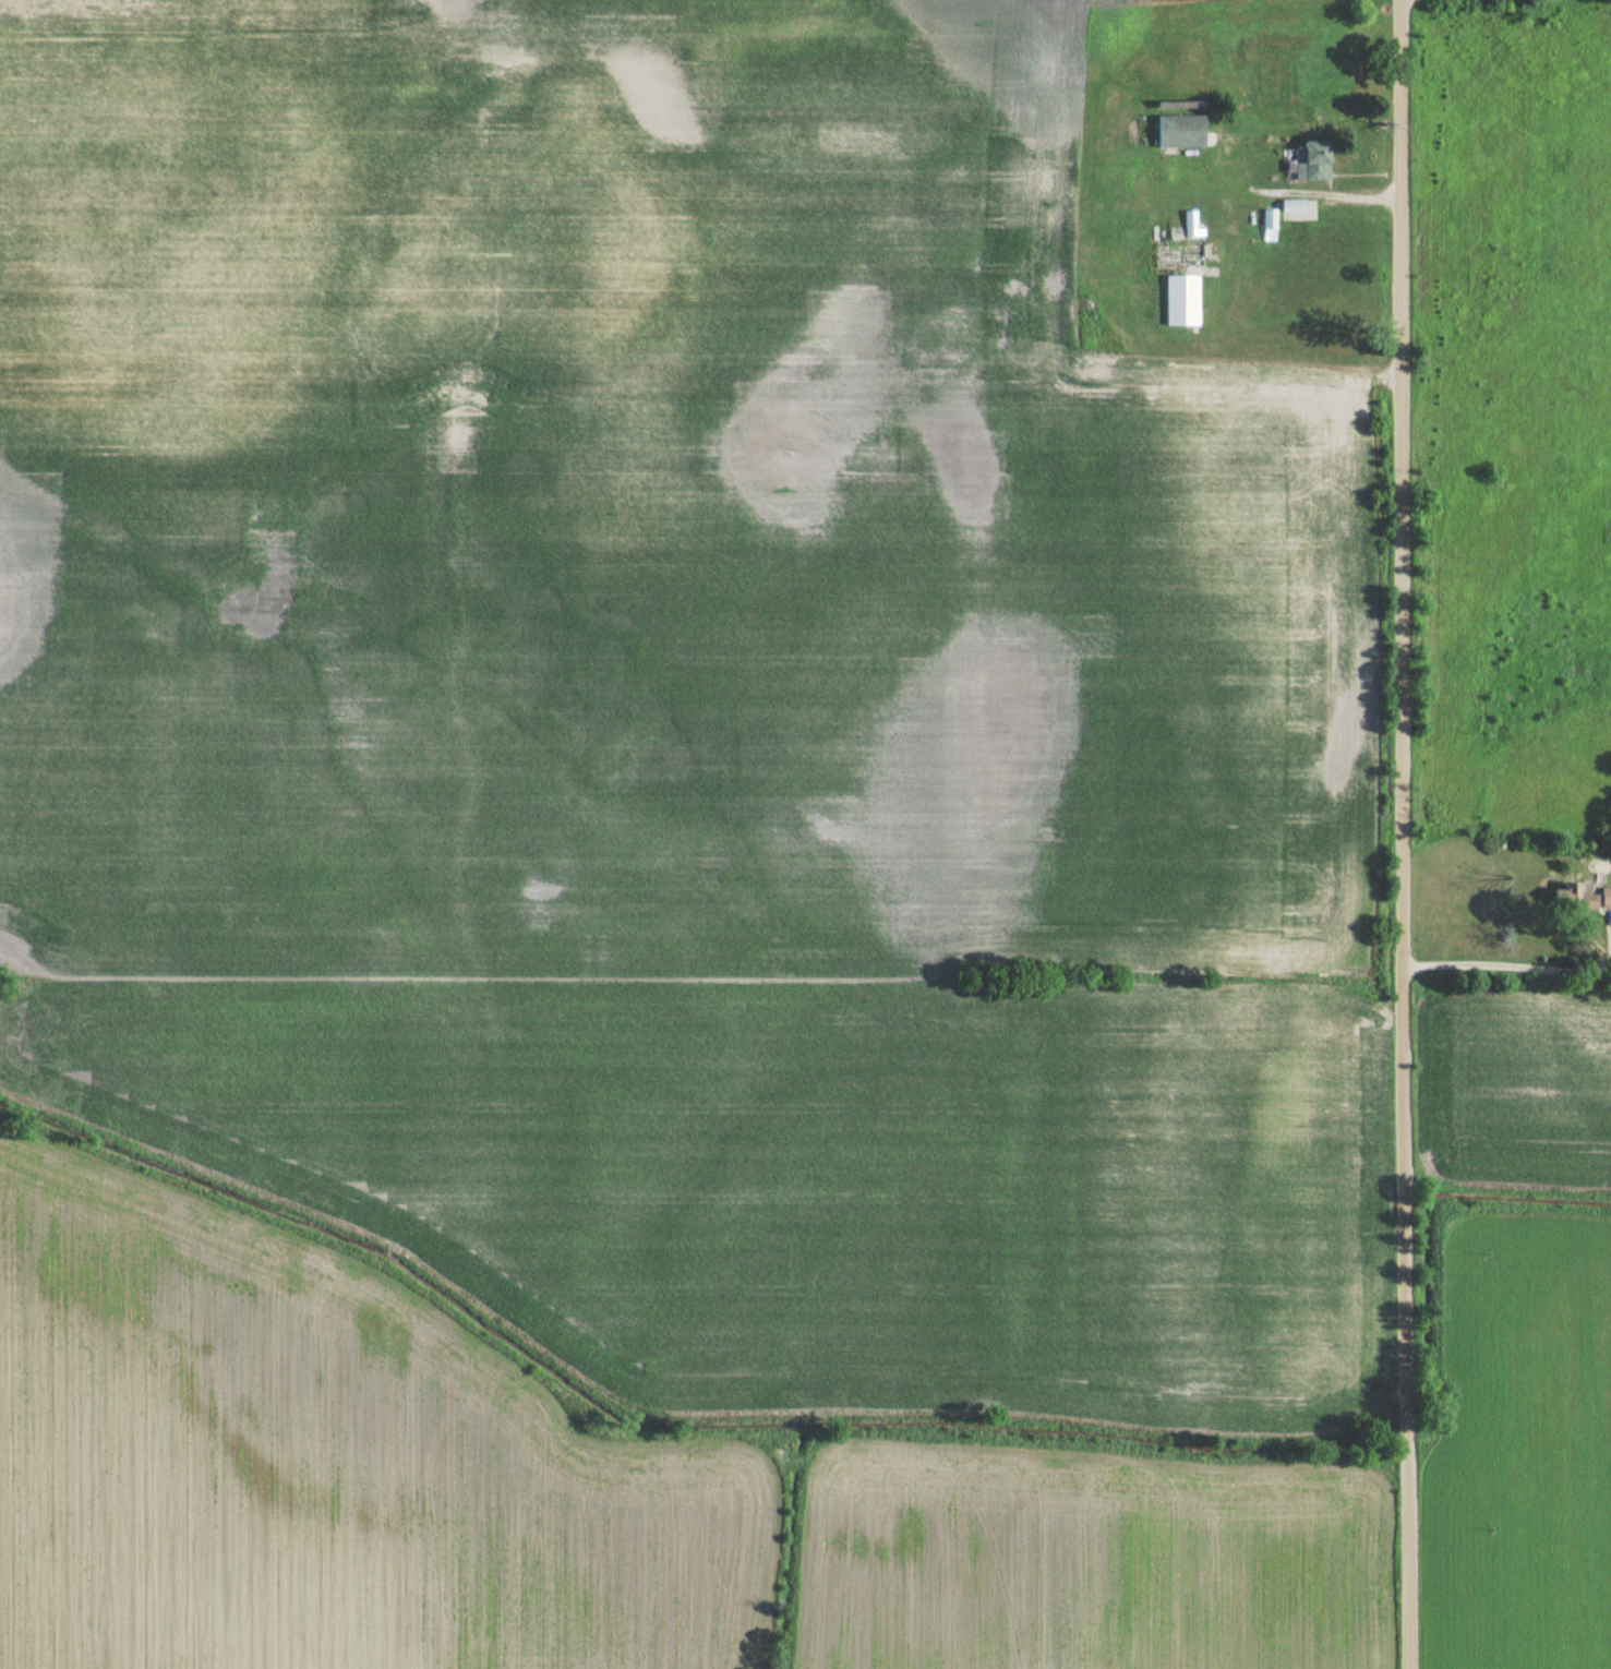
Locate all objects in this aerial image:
building: (1180, 131)
building: (1311, 161)
road: (1333, 194)
building: (1189, 224)
building: (1181, 301)
road: (1402, 834)
building: (1573, 898)
building: (1606, 898)
road: (1508, 965)
crop: (1517, 1086)
crop: (322, 1465)
crop: (1093, 1559)

